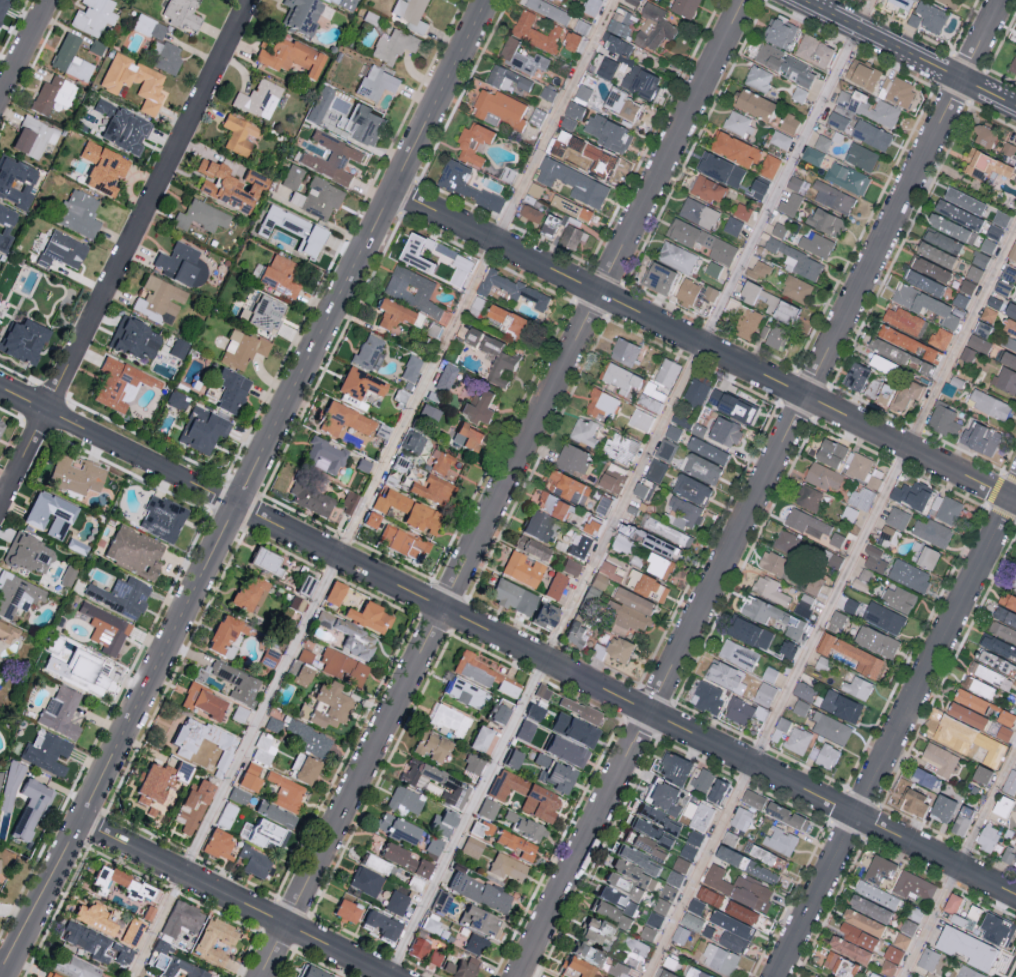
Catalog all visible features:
building: (631, 2)
building: (343, 3)
building: (951, 3)
building: (899, 5)
building: (2, 6)
building: (592, 6)
building: (684, 7)
building: (549, 10)
building: (181, 13)
building: (411, 13)
building: (300, 16)
building: (93, 17)
building: (928, 17)
building: (621, 22)
building: (581, 25)
building: (653, 26)
building: (781, 31)
building: (537, 32)
building: (571, 41)
building: (158, 45)
building: (617, 45)
building: (393, 46)
road: (24, 50)
building: (814, 50)
road: (910, 53)
building: (521, 56)
building: (288, 58)
building: (71, 59)
building: (782, 63)
building: (1013, 64)
building: (607, 67)
building: (863, 74)
building: (758, 78)
building: (133, 82)
building: (640, 82)
building: (376, 83)
building: (897, 91)
building: (583, 92)
building: (799, 93)
building: (54, 96)
building: (258, 100)
building: (753, 103)
building: (620, 104)
building: (318, 105)
building: (500, 107)
building: (869, 107)
building: (572, 114)
building: (537, 116)
building: (837, 120)
building: (739, 123)
building: (789, 123)
building: (363, 125)
building: (121, 129)
building: (869, 133)
building: (609, 134)
building: (984, 135)
building: (238, 136)
building: (33, 137)
building: (780, 139)
building: (558, 141)
building: (822, 142)
building: (473, 143)
building: (733, 148)
building: (1007, 149)
building: (812, 155)
building: (861, 156)
building: (330, 158)
building: (600, 159)
building: (984, 165)
building: (1015, 165)
building: (769, 166)
building: (100, 169)
building: (720, 169)
building: (293, 177)
building: (846, 178)
building: (573, 182)
building: (15, 183)
building: (467, 185)
building: (228, 186)
building: (708, 189)
building: (758, 189)
building: (833, 197)
building: (964, 201)
building: (789, 204)
building: (571, 208)
building: (742, 211)
building: (698, 213)
building: (77, 214)
building: (531, 214)
building: (958, 214)
building: (201, 217)
building: (823, 221)
building: (550, 225)
building: (732, 225)
building: (951, 227)
building: (5, 228)
building: (779, 229)
building: (294, 231)
building: (574, 237)
building: (702, 240)
building: (942, 241)
building: (816, 244)
building: (60, 251)
building: (1012, 251)
building: (416, 252)
road: (126, 254)
building: (935, 254)
building: (676, 257)
building: (797, 260)
building: (181, 265)
building: (761, 268)
building: (713, 269)
building: (930, 269)
building: (459, 270)
building: (974, 272)
building: (277, 277)
building: (658, 278)
building: (924, 283)
building: (967, 286)
building: (796, 288)
building: (512, 289)
building: (412, 290)
building: (687, 291)
building: (749, 291)
building: (705, 295)
building: (960, 299)
building: (159, 301)
building: (994, 302)
building: (928, 305)
building: (1011, 311)
building: (786, 312)
building: (988, 314)
building: (390, 315)
building: (263, 316)
building: (508, 320)
building: (903, 320)
building: (746, 323)
building: (1010, 327)
building: (982, 329)
building: (472, 336)
building: (776, 337)
building: (940, 338)
building: (133, 340)
building: (21, 341)
building: (1010, 342)
building: (908, 343)
building: (978, 343)
road: (702, 346)
building: (178, 349)
building: (240, 350)
building: (624, 350)
building: (888, 350)
building: (368, 353)
building: (967, 354)
building: (1008, 360)
building: (498, 361)
building: (882, 364)
building: (923, 365)
building: (410, 369)
building: (667, 371)
building: (620, 376)
building: (855, 376)
building: (445, 378)
building: (1005, 380)
building: (119, 385)
building: (357, 386)
building: (228, 391)
building: (696, 391)
building: (878, 391)
building: (906, 395)
building: (400, 396)
building: (651, 396)
building: (176, 400)
building: (601, 402)
building: (731, 404)
building: (989, 405)
building: (478, 407)
building: (428, 414)
building: (640, 419)
building: (943, 420)
building: (1, 421)
building: (342, 421)
building: (724, 430)
building: (199, 431)
building: (584, 431)
building: (468, 436)
building: (977, 437)
building: (413, 441)
building: (620, 447)
building: (666, 448)
building: (706, 449)
building: (830, 451)
building: (324, 456)
building: (574, 459)
building: (398, 463)
building: (440, 463)
building: (701, 467)
building: (655, 469)
building: (863, 469)
building: (823, 475)
building: (74, 476)
building: (612, 477)
road: (242, 483)
building: (568, 486)
building: (691, 487)
road: (503, 488)
road: (630, 488)
building: (639, 488)
road: (762, 488)
road: (373, 489)
building: (431, 489)
building: (912, 494)
building: (808, 496)
building: (862, 497)
building: (310, 499)
building: (348, 501)
building: (936, 502)
building: (552, 504)
building: (603, 504)
building: (949, 509)
building: (407, 510)
building: (685, 511)
building: (849, 512)
building: (32, 514)
building: (897, 517)
building: (161, 518)
building: (368, 519)
building: (807, 522)
building: (536, 525)
building: (665, 529)
building: (933, 531)
building: (887, 532)
building: (785, 540)
building: (401, 542)
building: (624, 543)
building: (660, 544)
building: (579, 545)
building: (76, 546)
building: (530, 547)
building: (132, 551)
building: (28, 554)
building: (926, 555)
building: (831, 558)
building: (874, 558)
building: (775, 562)
building: (660, 565)
building: (570, 567)
building: (521, 569)
building: (609, 570)
building: (909, 574)
building: (1013, 577)
building: (863, 578)
building: (598, 581)
building: (814, 583)
building: (647, 584)
building: (303, 585)
building: (553, 585)
building: (769, 588)
building: (244, 592)
building: (333, 592)
building: (16, 594)
building: (119, 596)
building: (512, 597)
building: (898, 597)
building: (633, 599)
building: (1007, 600)
building: (294, 604)
building: (804, 604)
road: (832, 605)
building: (542, 615)
building: (774, 615)
building: (367, 617)
building: (883, 617)
building: (627, 618)
building: (836, 620)
building: (104, 628)
building: (1002, 630)
building: (749, 631)
building: (7, 632)
building: (219, 633)
building: (574, 633)
building: (349, 637)
building: (876, 640)
road: (506, 643)
building: (999, 646)
building: (618, 647)
building: (787, 648)
building: (597, 650)
building: (738, 653)
building: (852, 654)
building: (305, 656)
building: (268, 657)
building: (996, 661)
building: (342, 667)
building: (82, 671)
building: (769, 673)
building: (988, 673)
building: (300, 675)
building: (483, 675)
building: (726, 675)
building: (236, 683)
building: (978, 686)
building: (857, 687)
building: (804, 690)
building: (463, 692)
building: (541, 692)
building: (765, 693)
building: (707, 697)
building: (970, 699)
building: (201, 701)
building: (1015, 701)
building: (326, 705)
building: (841, 705)
building: (800, 706)
building: (578, 710)
building: (740, 710)
building: (301, 711)
building: (60, 712)
building: (532, 712)
building: (495, 713)
building: (239, 714)
building: (966, 714)
building: (1006, 717)
building: (448, 720)
building: (783, 723)
building: (272, 724)
building: (831, 727)
building: (570, 728)
building: (524, 731)
building: (951, 731)
building: (1004, 732)
building: (478, 738)
road: (898, 738)
building: (309, 739)
building: (798, 739)
building: (429, 746)
building: (984, 750)
building: (184, 751)
building: (263, 751)
building: (563, 751)
building: (46, 754)
building: (824, 755)
building: (939, 758)
building: (511, 759)
building: (473, 766)
building: (674, 767)
building: (302, 768)
building: (981, 773)
building: (553, 774)
building: (418, 775)
building: (248, 777)
building: (924, 777)
building: (702, 779)
building: (0, 780)
building: (156, 781)
building: (1010, 782)
building: (717, 790)
building: (285, 792)
building: (452, 793)
building: (238, 796)
building: (525, 796)
building: (662, 797)
building: (753, 798)
building: (404, 800)
building: (913, 801)
building: (1003, 805)
building: (192, 806)
building: (29, 807)
building: (942, 807)
building: (486, 810)
building: (272, 814)
building: (226, 815)
building: (786, 815)
building: (701, 816)
building: (741, 817)
building: (656, 819)
building: (962, 820)
building: (441, 822)
building: (524, 827)
building: (395, 828)
building: (476, 829)
building: (261, 832)
building: (650, 832)
building: (727, 837)
building: (987, 837)
building: (779, 840)
building: (692, 843)
building: (217, 844)
building: (433, 845)
building: (512, 845)
building: (643, 846)
building: (471, 847)
building: (391, 854)
building: (767, 856)
building: (1015, 856)
building: (636, 859)
road: (959, 861)
building: (253, 862)
building: (373, 864)
building: (681, 864)
building: (746, 864)
building: (415, 866)
building: (506, 867)
building: (881, 870)
building: (632, 874)
building: (674, 878)
building: (105, 880)
building: (365, 881)
building: (414, 883)
building: (621, 885)
building: (913, 885)
building: (739, 887)
building: (478, 892)
building: (668, 892)
building: (877, 894)
building: (709, 895)
road: (233, 897)
building: (615, 900)
building: (396, 903)
building: (953, 904)
building: (662, 905)
building: (695, 905)
building: (870, 907)
building: (344, 910)
building: (974, 911)
building: (741, 912)
building: (146, 913)
building: (915, 913)
building: (610, 914)
building: (92, 918)
building: (181, 919)
building: (654, 919)
building: (691, 920)
building: (478, 921)
building: (863, 921)
building: (731, 923)
building: (380, 925)
building: (997, 928)
building: (595, 931)
building: (132, 932)
building: (648, 932)
building: (680, 934)
building: (857, 935)
building: (901, 940)
building: (733, 941)
building: (93, 944)
building: (203, 944)
building: (475, 945)
building: (966, 947)
building: (416, 948)
building: (636, 948)
building: (849, 948)
building: (586, 954)
building: (434, 958)
building: (720, 958)
building: (928, 958)
road: (2, 960)
building: (891, 960)
building: (670, 962)
building: (839, 964)
building: (73, 967)
building: (576, 967)
building: (460, 968)
building: (180, 969)
building: (311, 972)
building: (696, 972)
building: (969, 972)
building: (666, 974)
building: (874, 974)
building: (49, 975)
building: (816, 976)

